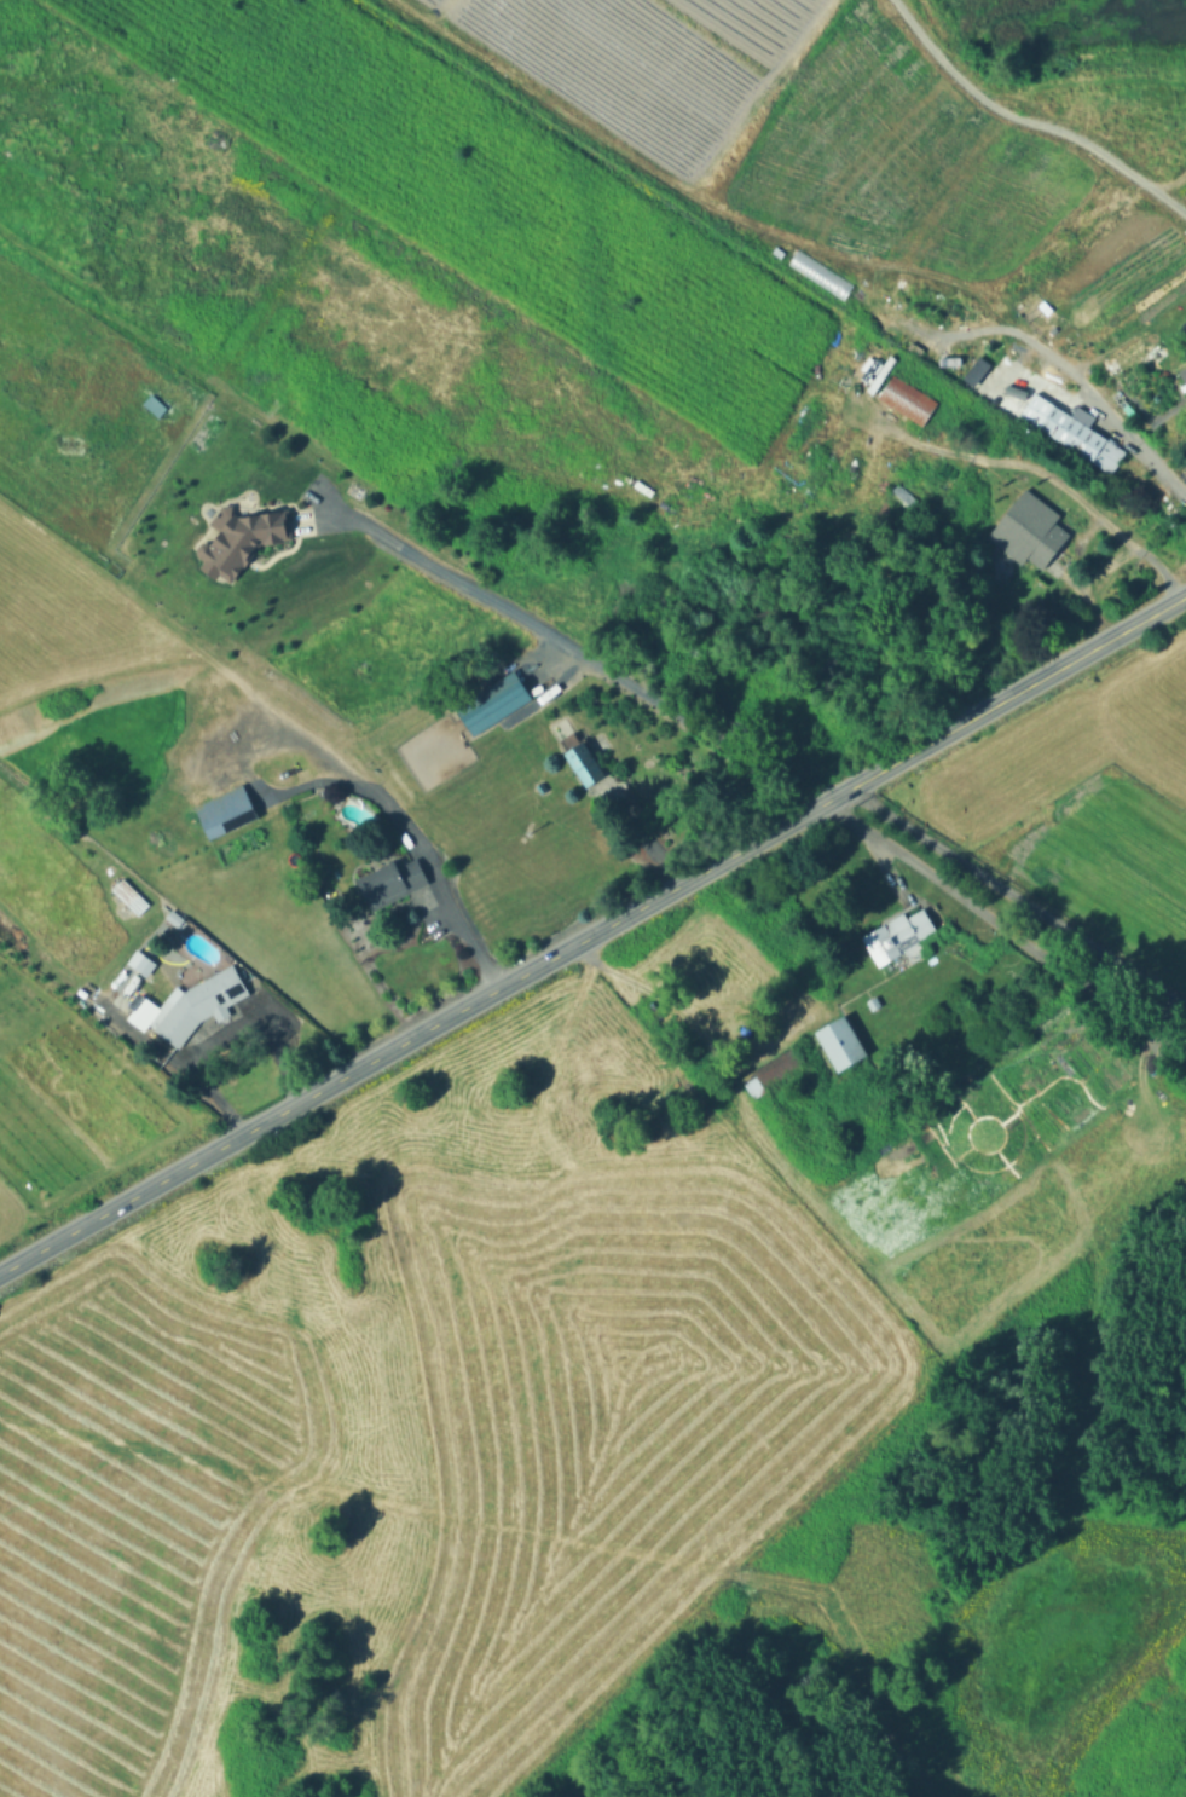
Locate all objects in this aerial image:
road: (1026, 121)
road: (700, 198)
building: (897, 328)
building: (978, 369)
building: (1185, 371)
road: (1065, 377)
building: (907, 398)
building: (1074, 432)
building: (845, 464)
building: (108, 476)
road: (1047, 479)
building: (899, 502)
building: (1030, 528)
building: (242, 538)
road: (580, 649)
road: (1016, 693)
building: (494, 700)
building: (585, 762)
building: (652, 787)
crop: (1083, 798)
building: (226, 810)
road: (418, 844)
building: (390, 882)
building: (131, 897)
road: (1014, 898)
building: (181, 921)
road: (1001, 929)
building: (898, 935)
building: (145, 965)
building: (875, 1002)
building: (198, 1004)
road: (276, 1007)
flagpole: (215, 1030)
road: (422, 1033)
road: (745, 1040)
building: (844, 1044)
road: (170, 1057)
building: (771, 1070)

